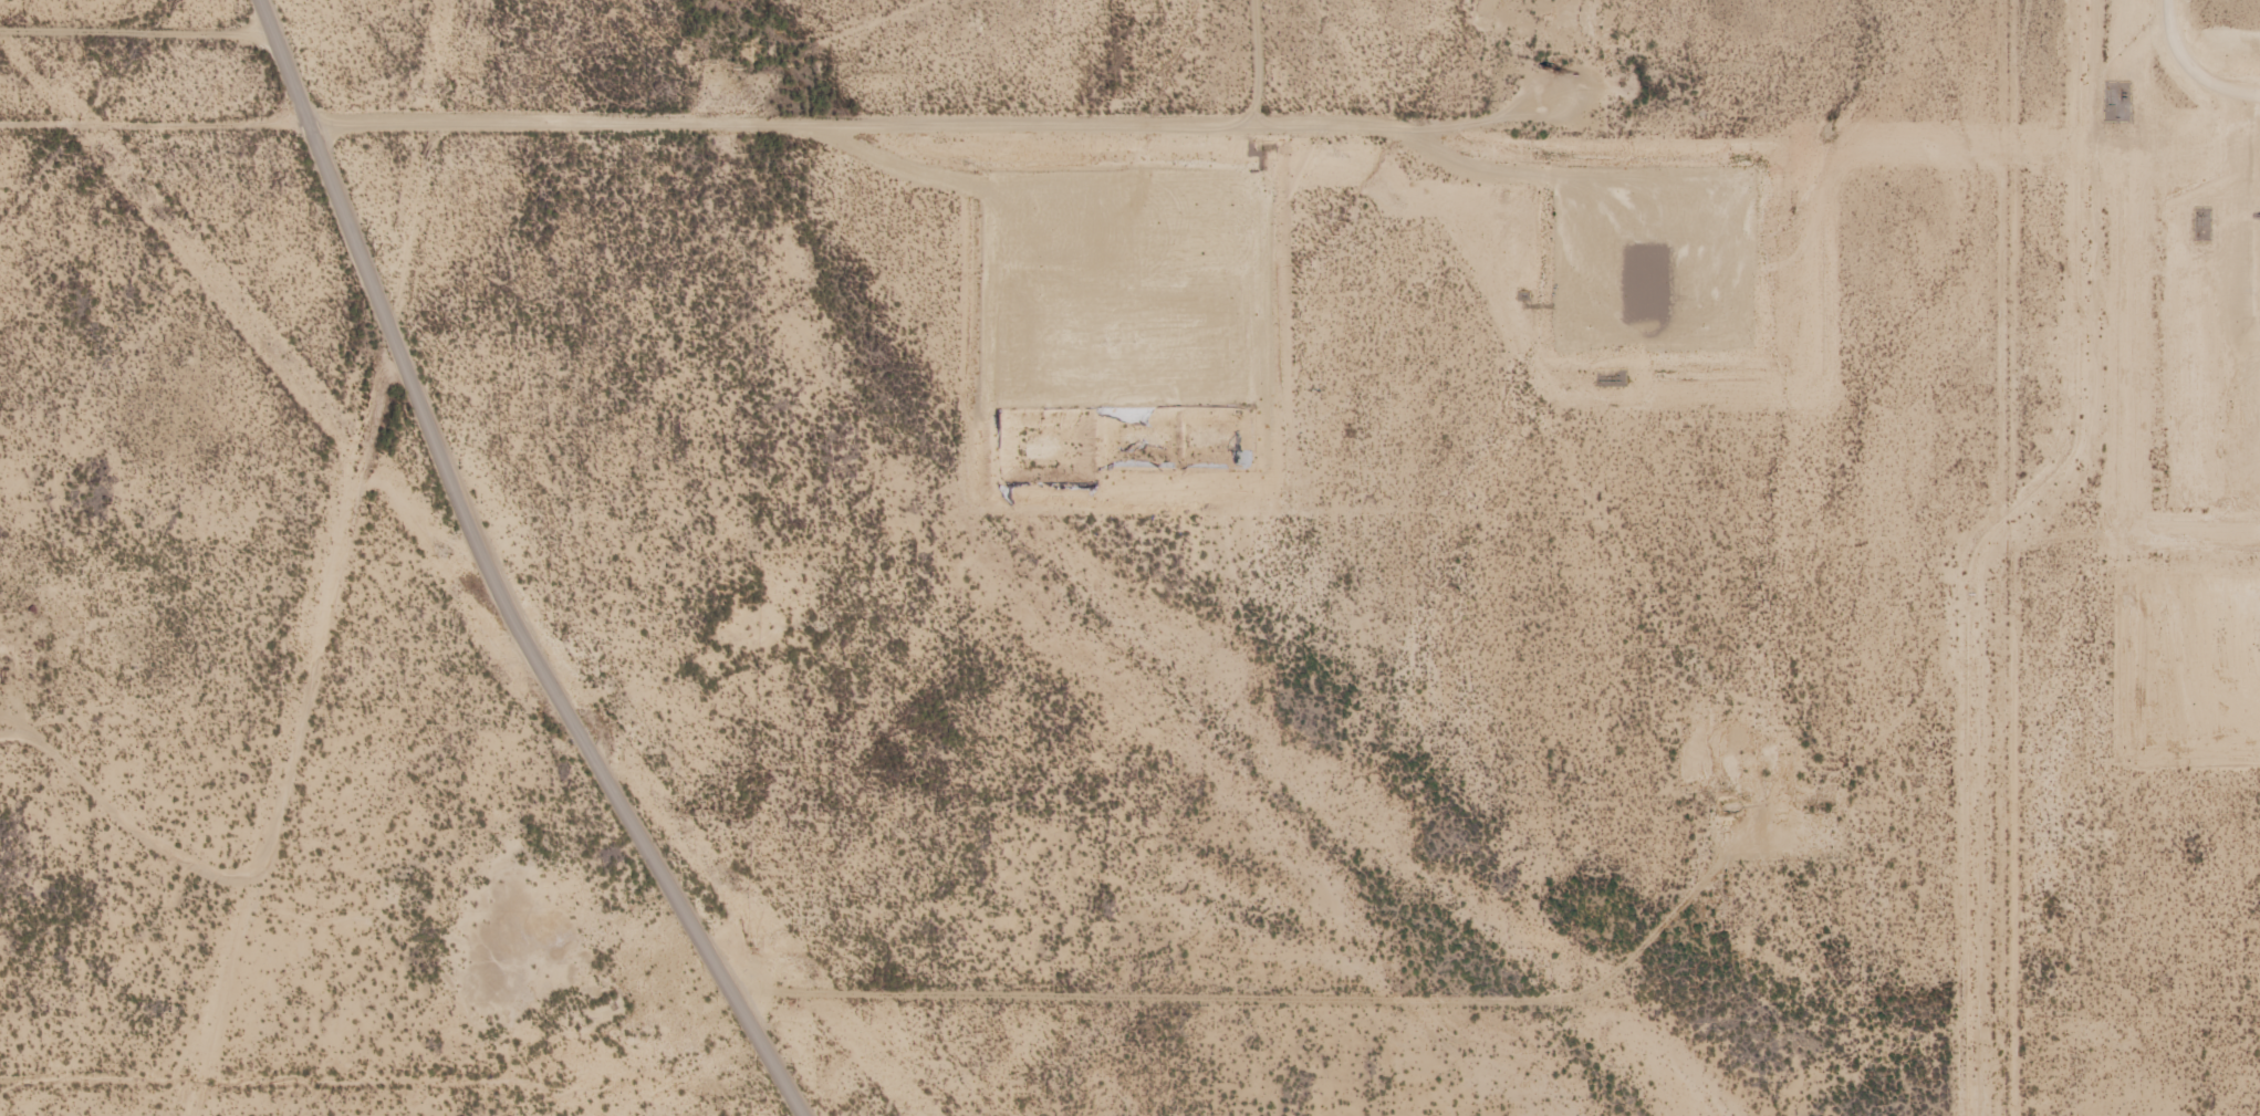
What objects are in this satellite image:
road: (770, 146)
road: (2003, 557)
road: (451, 573)
road: (1001, 1022)

